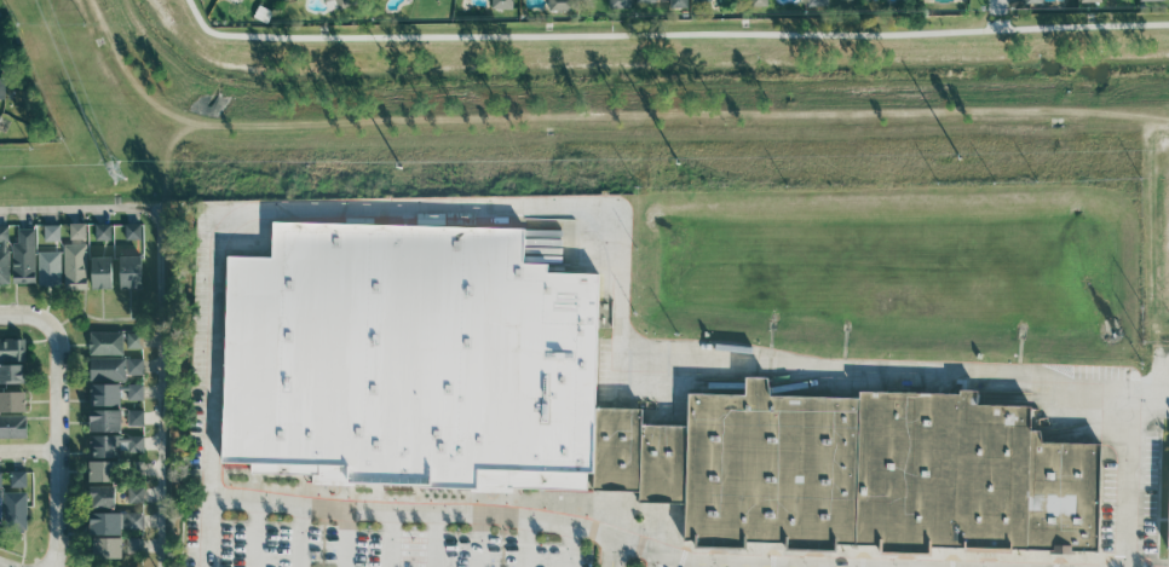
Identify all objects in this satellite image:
building: (701, 0)
building: (1150, 0)
building: (645, 1)
building: (1032, 1)
building: (1089, 1)
building: (622, 2)
building: (680, 2)
building: (760, 2)
building: (818, 2)
building: (503, 4)
road: (997, 4)
building: (559, 5)
building: (2, 76)
building: (1, 117)
power tower: (116, 172)
road: (77, 214)
road: (103, 214)
road: (133, 214)
road: (51, 215)
road: (0, 216)
road: (27, 218)
building: (77, 230)
building: (103, 230)
building: (133, 230)
building: (52, 231)
building: (4, 232)
building: (100, 248)
building: (23, 255)
building: (75, 265)
building: (5, 266)
building: (48, 266)
road: (623, 270)
building: (131, 271)
building: (102, 272)
road: (17, 296)
road: (48, 300)
road: (85, 300)
road: (129, 301)
road: (103, 302)
road: (160, 306)
road: (103, 317)
road: (40, 337)
building: (134, 339)
road: (151, 339)
road: (74, 341)
building: (106, 341)
building: (12, 348)
building: (407, 357)
road: (151, 363)
building: (134, 364)
building: (108, 366)
road: (74, 368)
building: (12, 374)
road: (41, 375)
building: (13, 388)
building: (136, 389)
road: (152, 389)
building: (104, 392)
road: (42, 398)
road: (74, 398)
building: (13, 400)
road: (42, 415)
road: (152, 415)
building: (136, 416)
road: (58, 418)
road: (74, 420)
building: (106, 420)
building: (13, 424)
building: (136, 441)
road: (152, 441)
building: (105, 444)
road: (29, 449)
road: (74, 450)
road: (19, 459)
building: (136, 467)
road: (152, 467)
road: (74, 468)
building: (104, 469)
building: (858, 471)
building: (1, 478)
building: (18, 478)
building: (136, 492)
road: (152, 492)
road: (74, 496)
building: (102, 496)
building: (0, 505)
building: (15, 509)
road: (512, 514)
building: (1164, 514)
building: (136, 519)
road: (151, 519)
building: (105, 522)
road: (75, 531)
road: (254, 532)
road: (300, 536)
road: (345, 537)
road: (390, 537)
road: (436, 538)
road: (479, 538)
parking lot: (369, 542)
road: (524, 542)
building: (134, 544)
road: (151, 544)
road: (569, 545)
road: (24, 548)
building: (106, 549)
road: (611, 551)
road: (656, 559)
road: (707, 565)
road: (748, 565)
parking lot: (664, 566)
road: (794, 566)
road: (839, 566)

